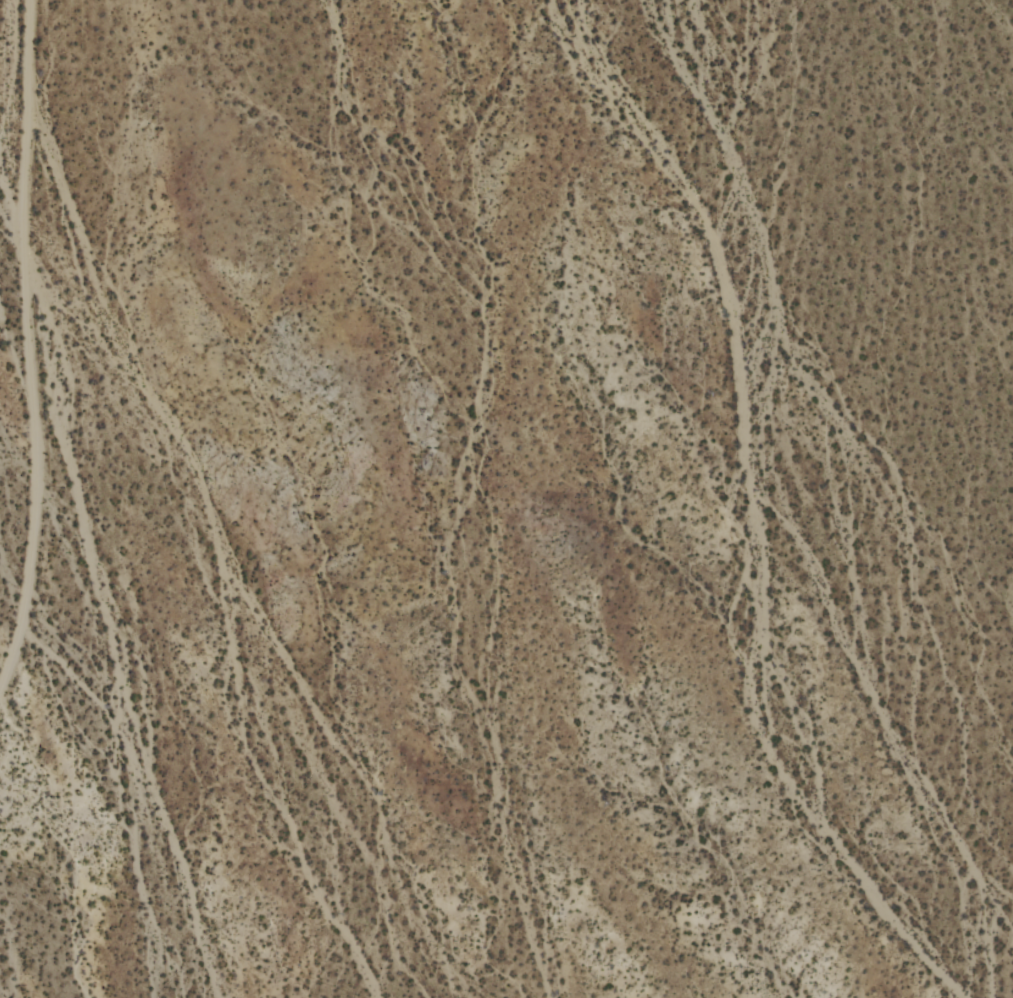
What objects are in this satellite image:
road: (26, 346)

